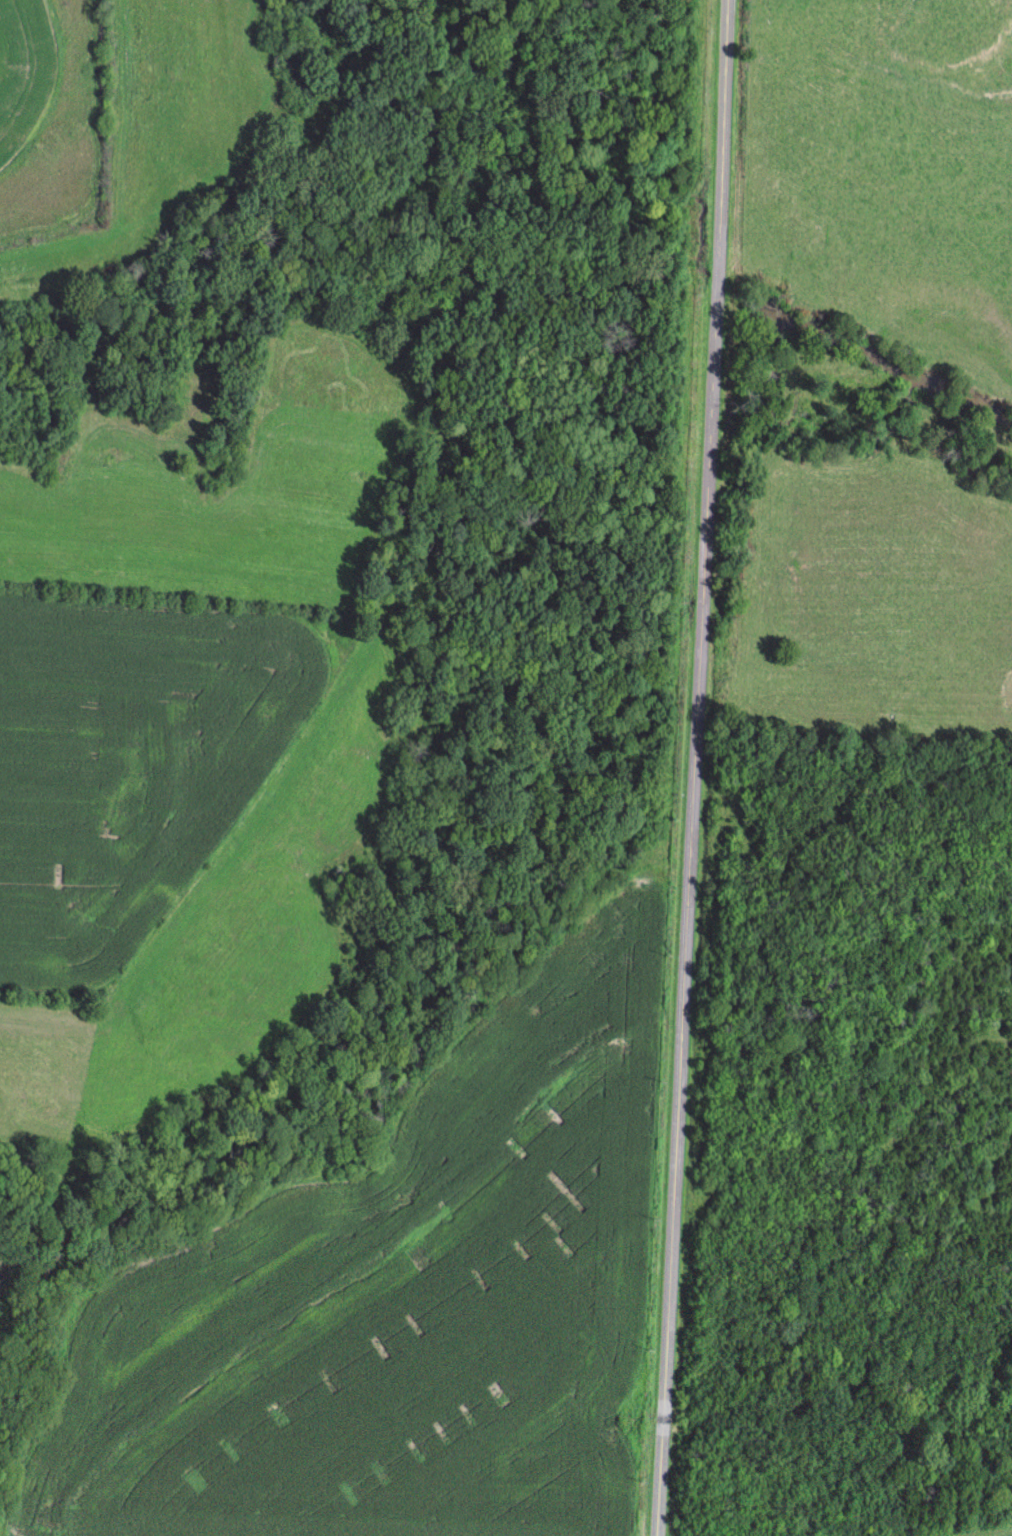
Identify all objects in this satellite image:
road: (695, 768)

